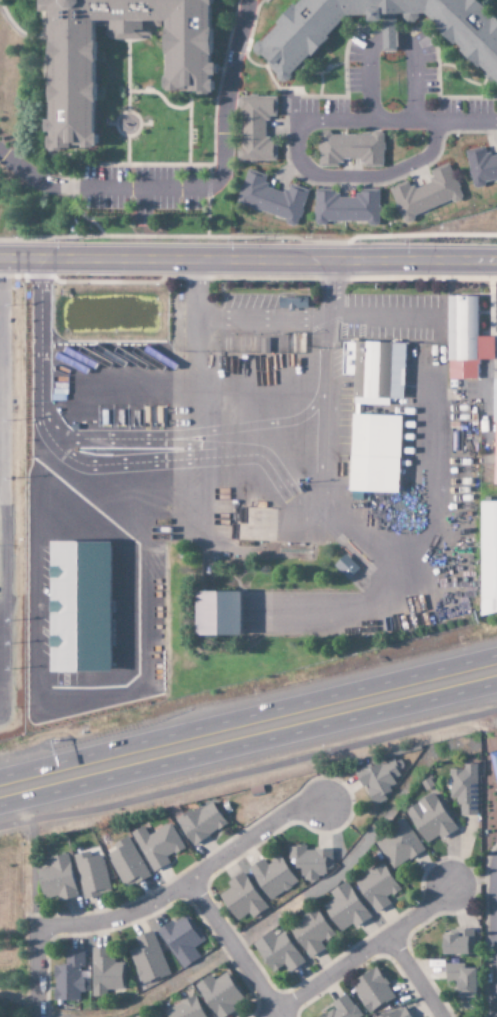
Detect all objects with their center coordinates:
building: (186, 67)
building: (255, 130)
building: (350, 150)
building: (481, 167)
building: (425, 194)
building: (270, 198)
building: (346, 208)
road: (248, 258)
building: (291, 304)
building: (464, 338)
building: (374, 371)
road: (5, 388)
building: (494, 435)
building: (374, 453)
building: (488, 556)
building: (345, 566)
road: (6, 608)
building: (217, 613)
road: (248, 728)
building: (495, 761)
building: (379, 779)
building: (496, 779)
building: (464, 789)
building: (429, 819)
building: (200, 823)
building: (156, 845)
building: (397, 845)
building: (310, 861)
building: (126, 863)
building: (90, 874)
building: (271, 876)
building: (55, 879)
road: (186, 886)
building: (376, 887)
building: (242, 898)
road: (490, 901)
building: (344, 908)
building: (310, 933)
building: (181, 940)
building: (456, 943)
road: (234, 950)
building: (277, 952)
road: (364, 956)
building: (147, 959)
road: (37, 973)
building: (105, 973)
building: (69, 977)
road: (415, 977)
building: (461, 980)
road: (490, 982)
building: (371, 990)
building: (219, 995)
building: (342, 1008)
building: (186, 1009)
building: (398, 1013)
building: (158, 1016)

